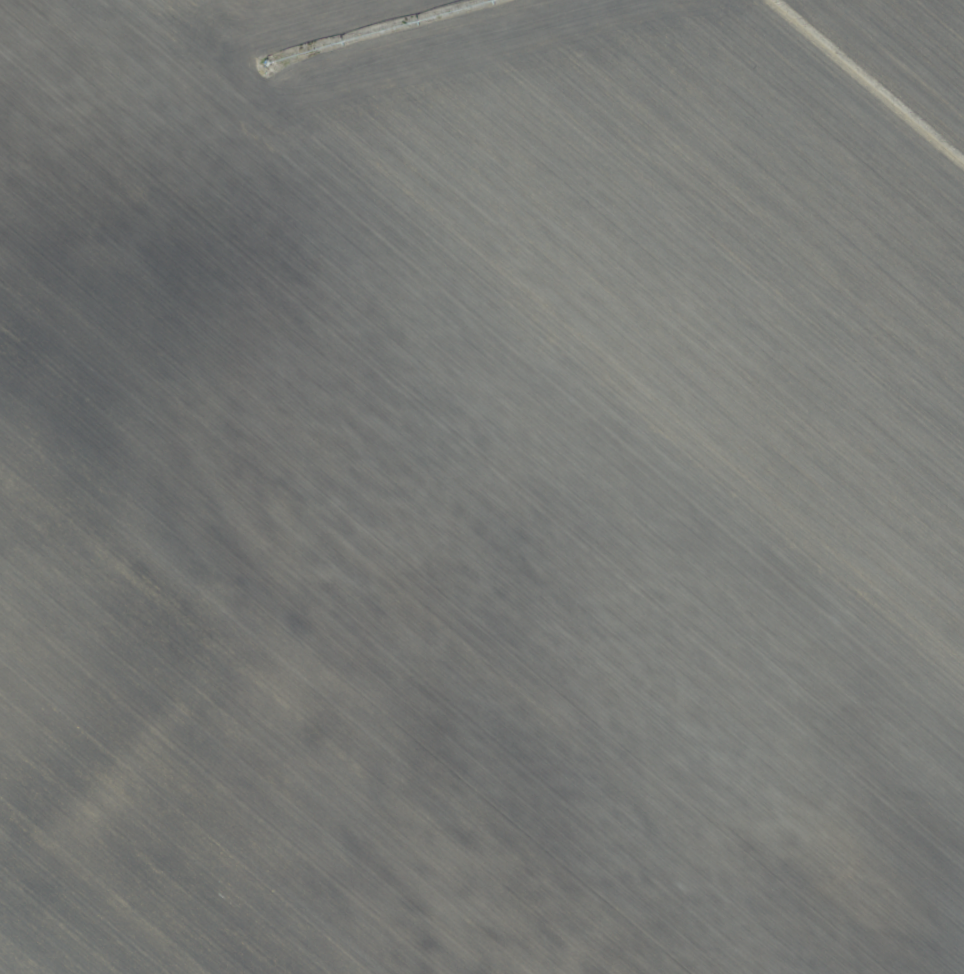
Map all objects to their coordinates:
road: (319, 582)
road: (594, 764)

